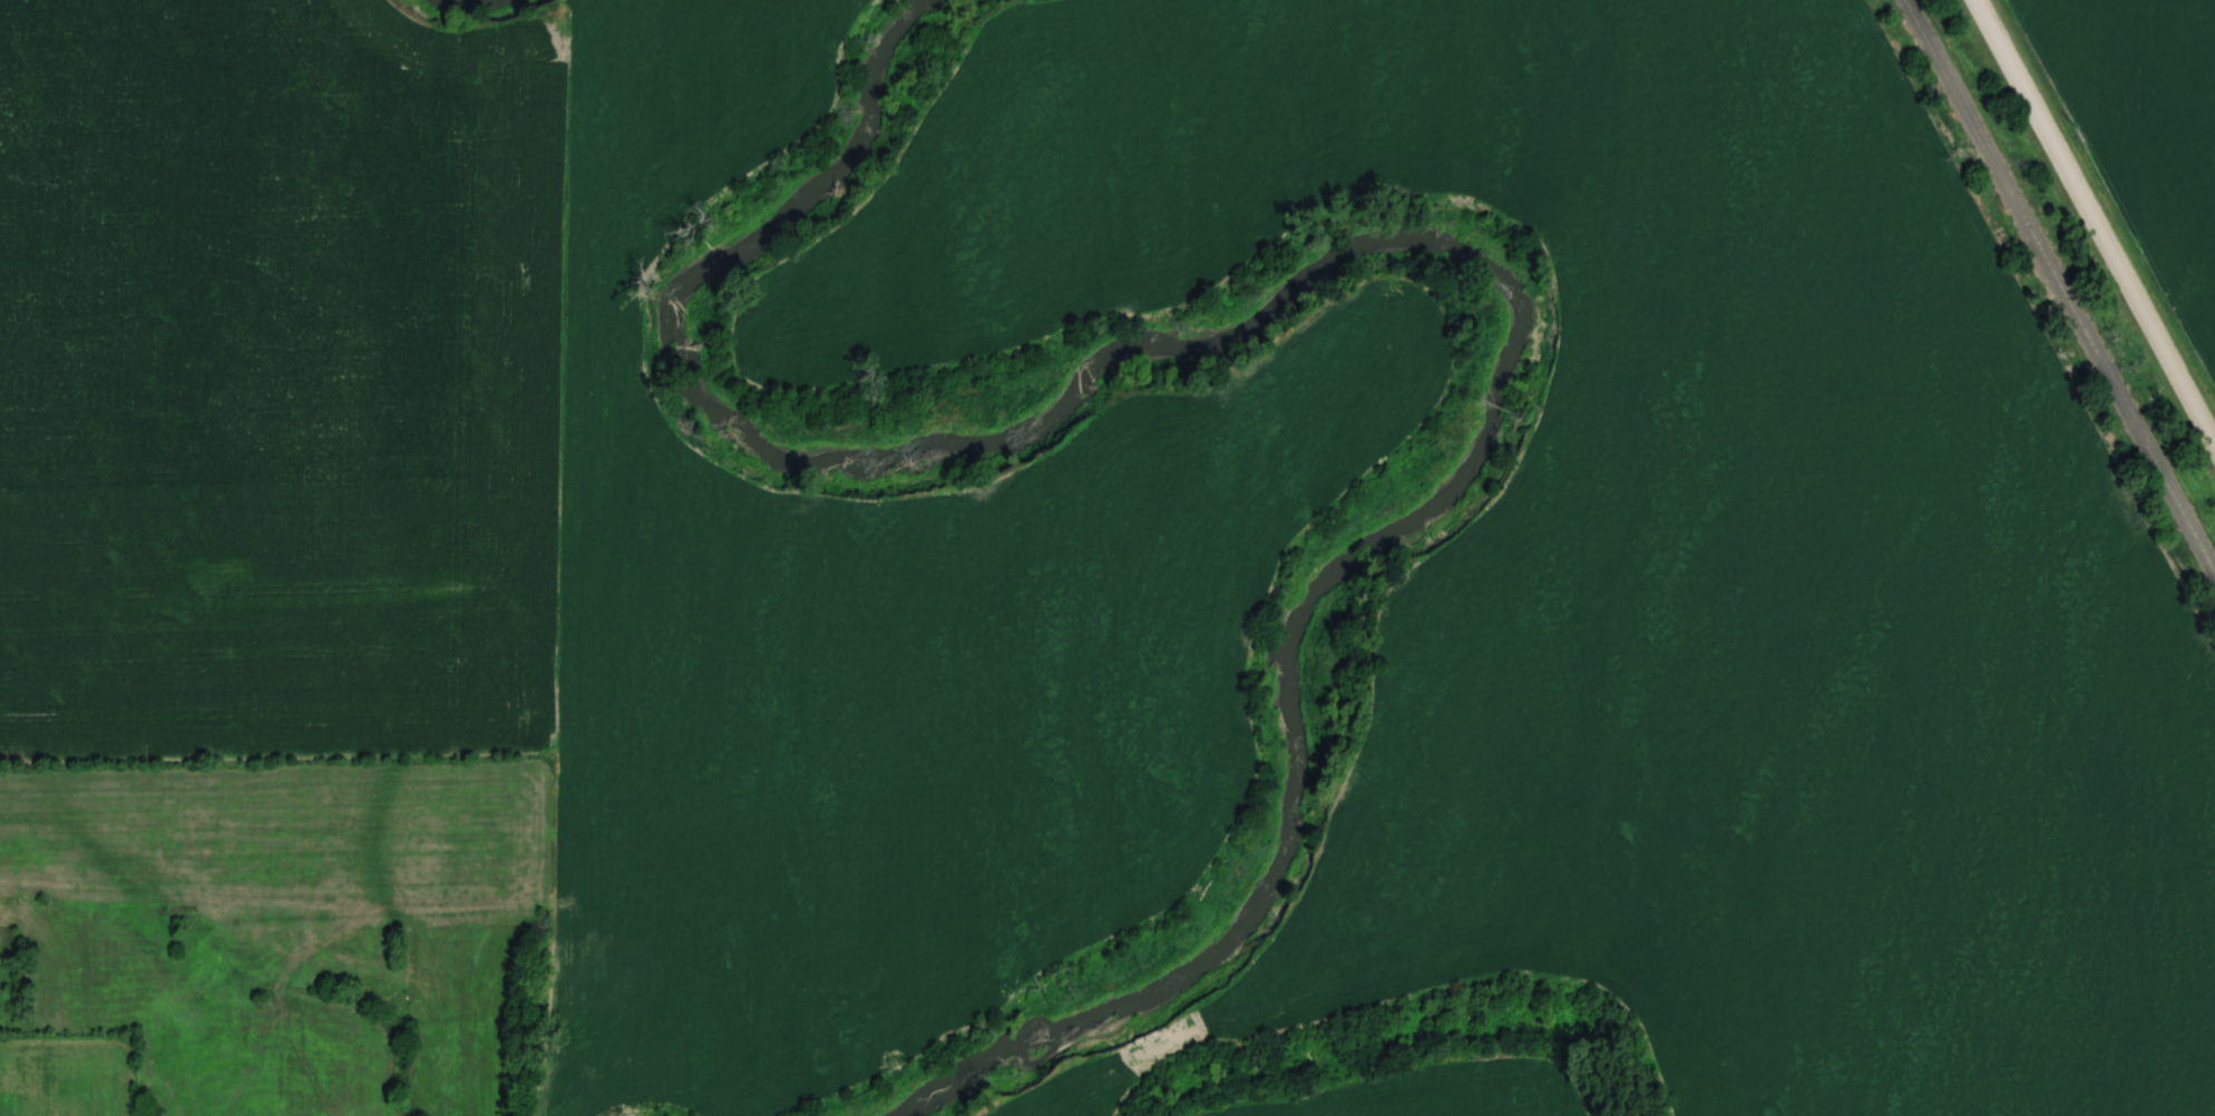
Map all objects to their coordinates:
river: (466, 2)
road: (2094, 226)
river: (1369, 249)
railway: (2060, 285)

